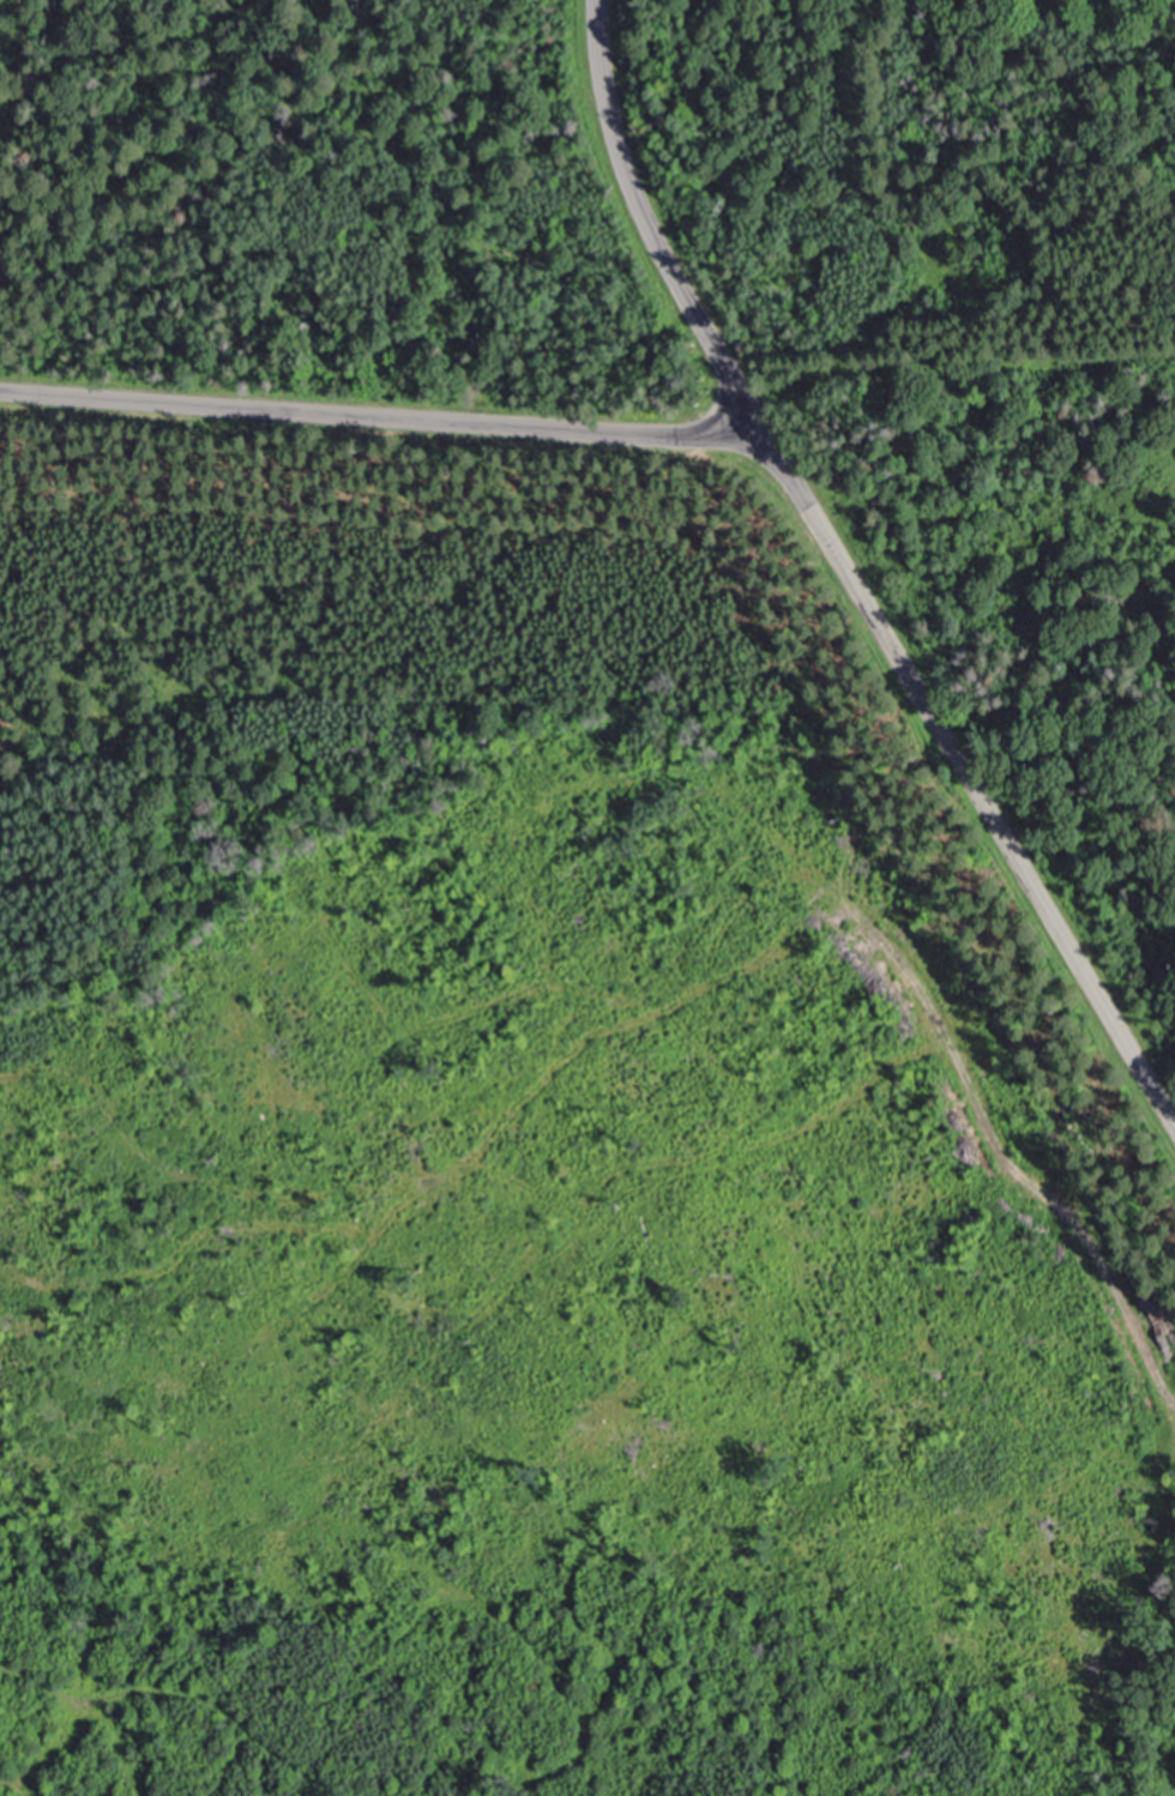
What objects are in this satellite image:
road: (537, 34)
road: (379, 414)
road: (848, 575)
road: (187, 1693)

